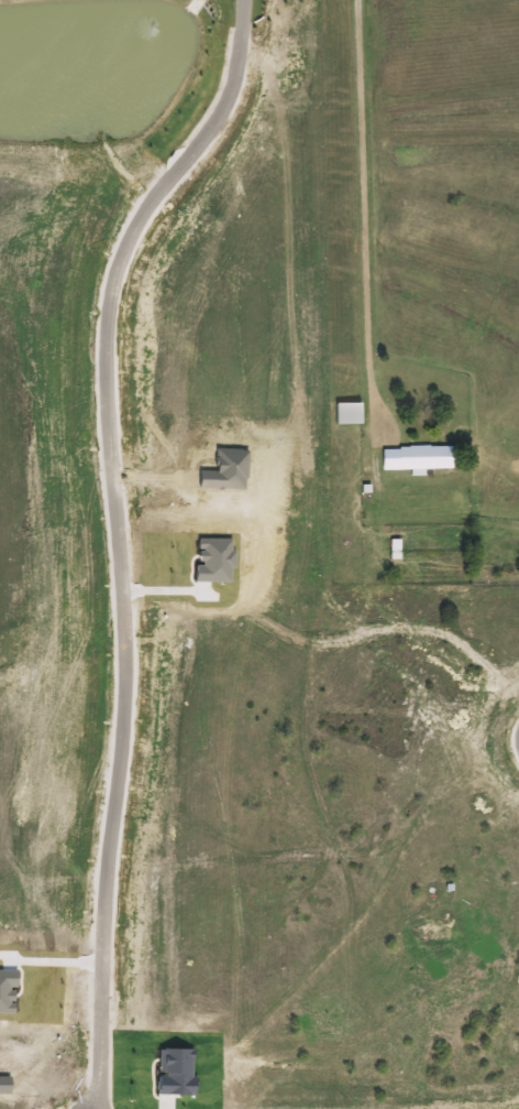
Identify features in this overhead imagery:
road: (357, 175)
building: (344, 413)
building: (415, 457)
road: (117, 535)
building: (433, 938)

